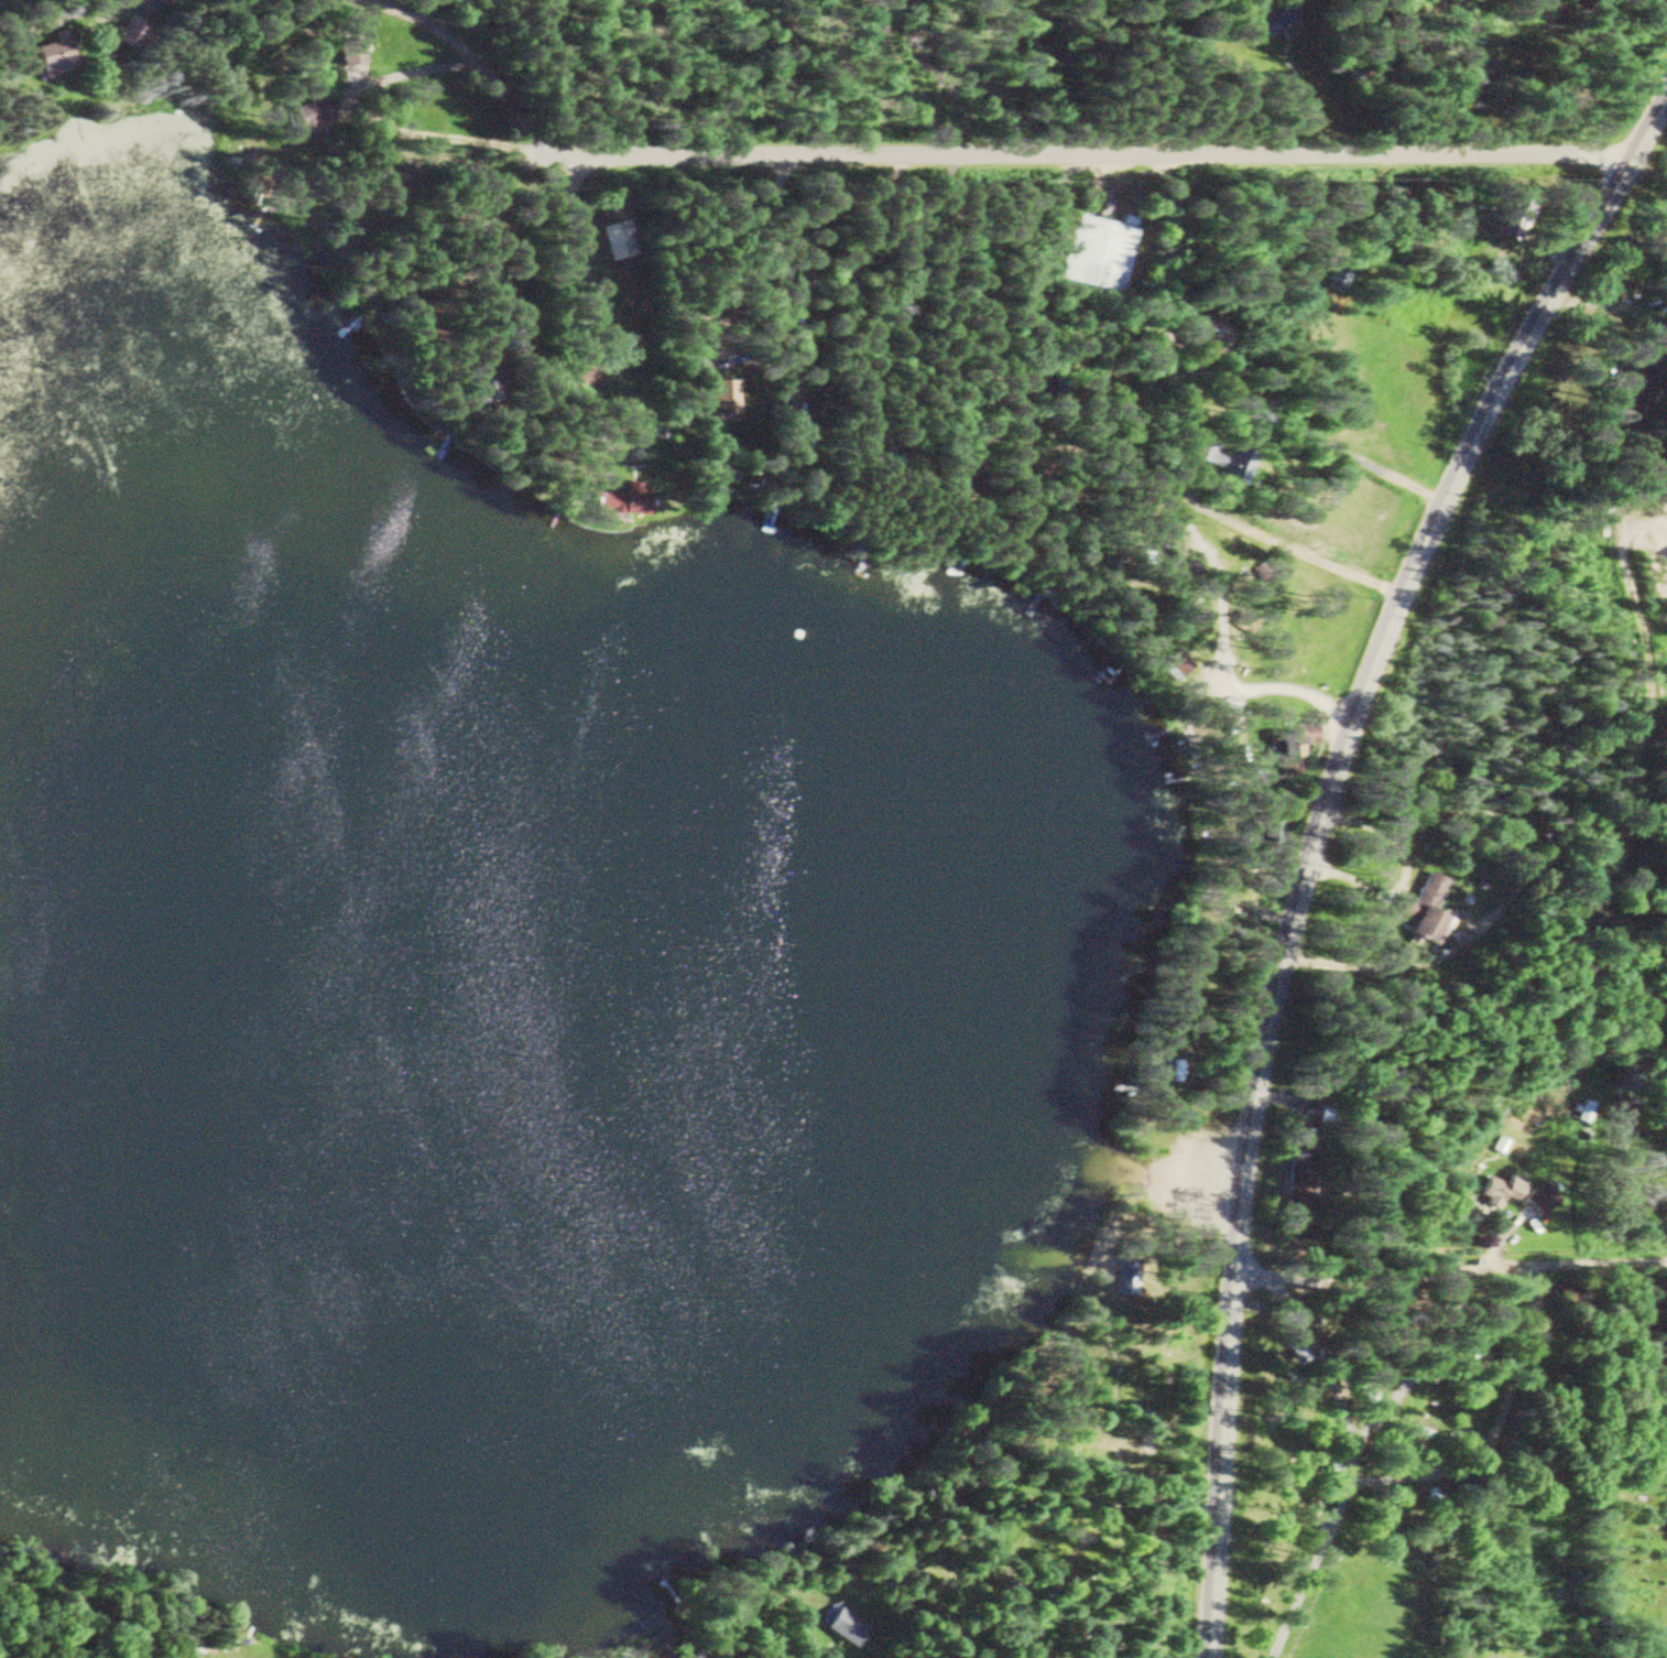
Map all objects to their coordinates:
road: (119, 10)
building: (1274, 19)
building: (129, 34)
building: (349, 52)
building: (50, 54)
road: (472, 62)
building: (1472, 67)
building: (308, 118)
road: (1098, 153)
road: (567, 210)
building: (615, 239)
road: (1534, 243)
building: (1092, 252)
road: (776, 266)
building: (1334, 278)
building: (505, 332)
building: (1203, 334)
building: (1635, 378)
building: (468, 392)
building: (718, 397)
road: (1288, 421)
building: (1219, 459)
building: (614, 500)
road: (1288, 545)
building: (1150, 557)
building: (1173, 664)
road: (1271, 687)
building: (1286, 750)
road: (1311, 838)
road: (1351, 879)
building: (1424, 911)
road: (1436, 954)
building: (1579, 1109)
road: (1181, 1170)
building: (1298, 1172)
building: (1496, 1188)
building: (1537, 1199)
road: (1448, 1264)
building: (1123, 1276)
park: (1262, 1407)
building: (1666, 1528)
building: (840, 1624)

